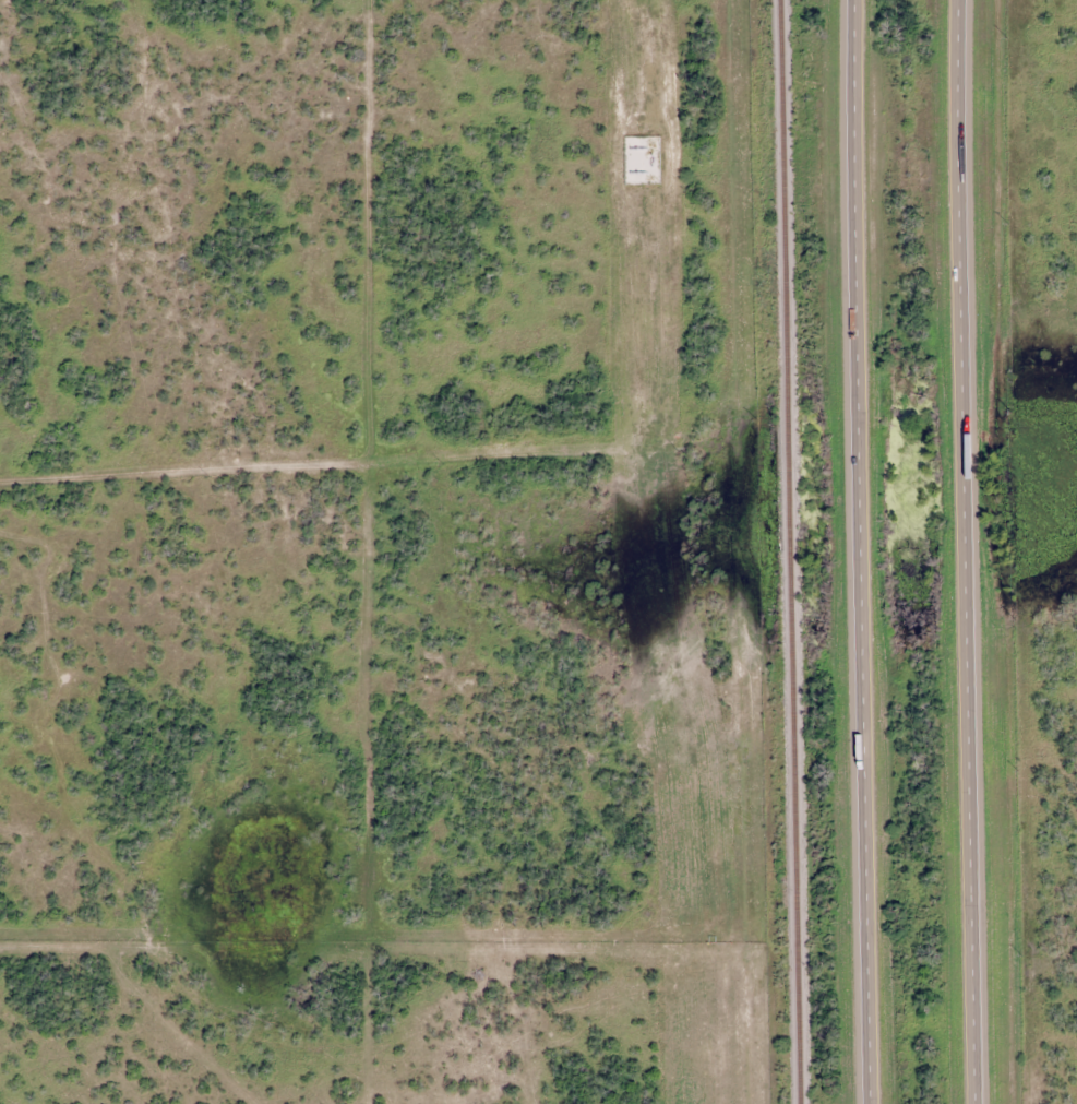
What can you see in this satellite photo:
railway: (797, 551)
road: (865, 551)
road: (971, 551)

